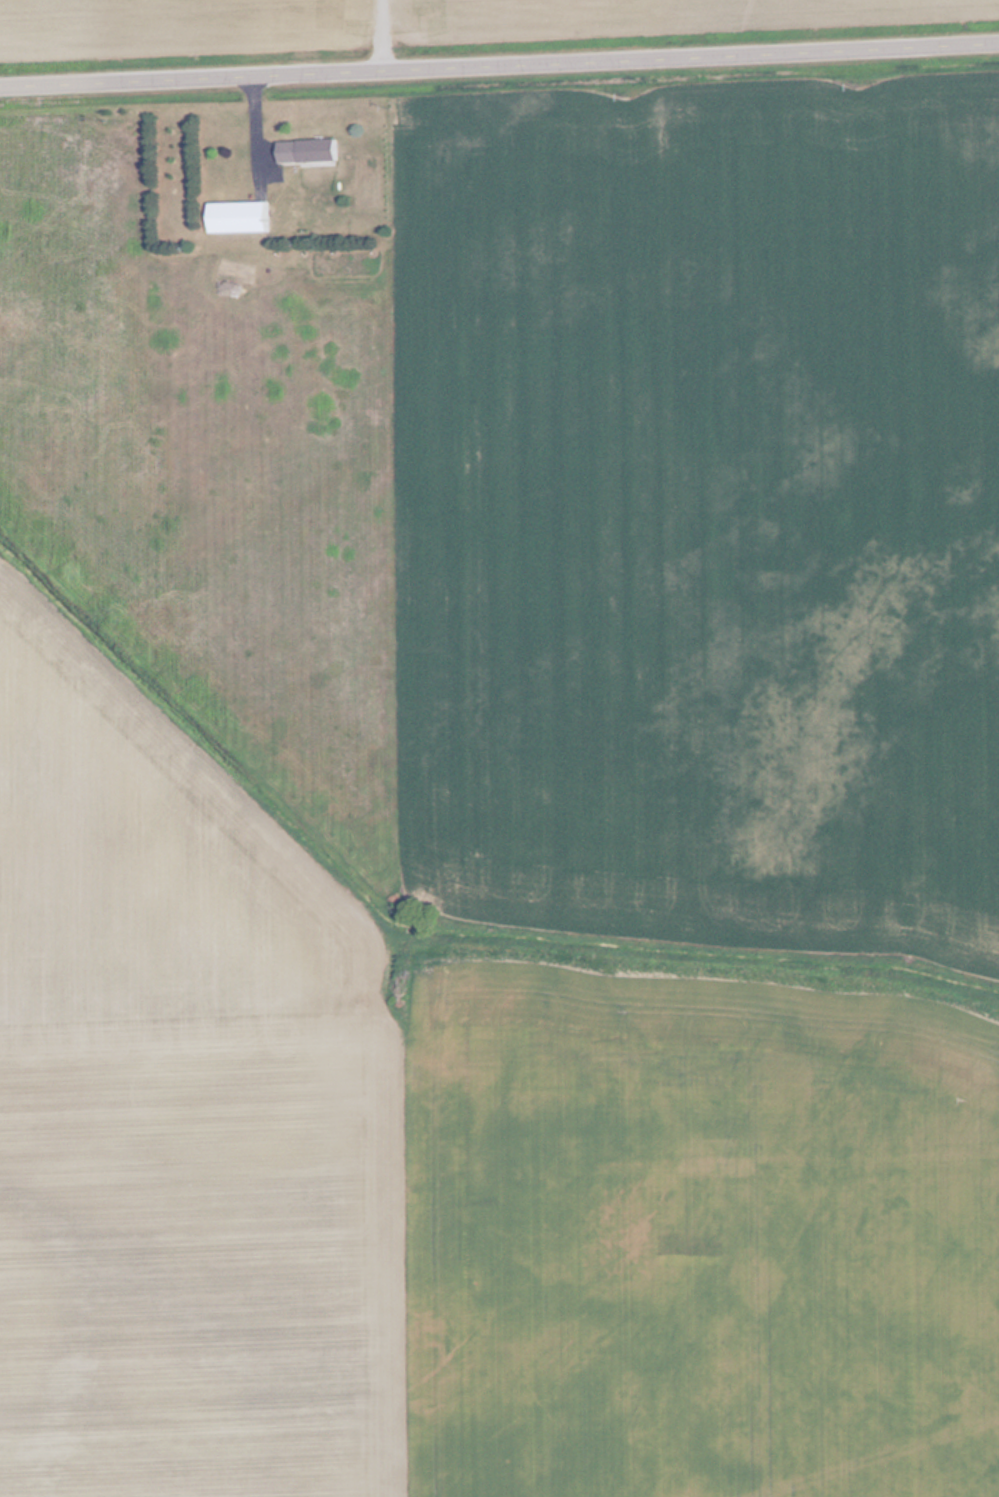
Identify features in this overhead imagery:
road: (389, 34)
road: (499, 63)
building: (311, 151)
building: (243, 217)

